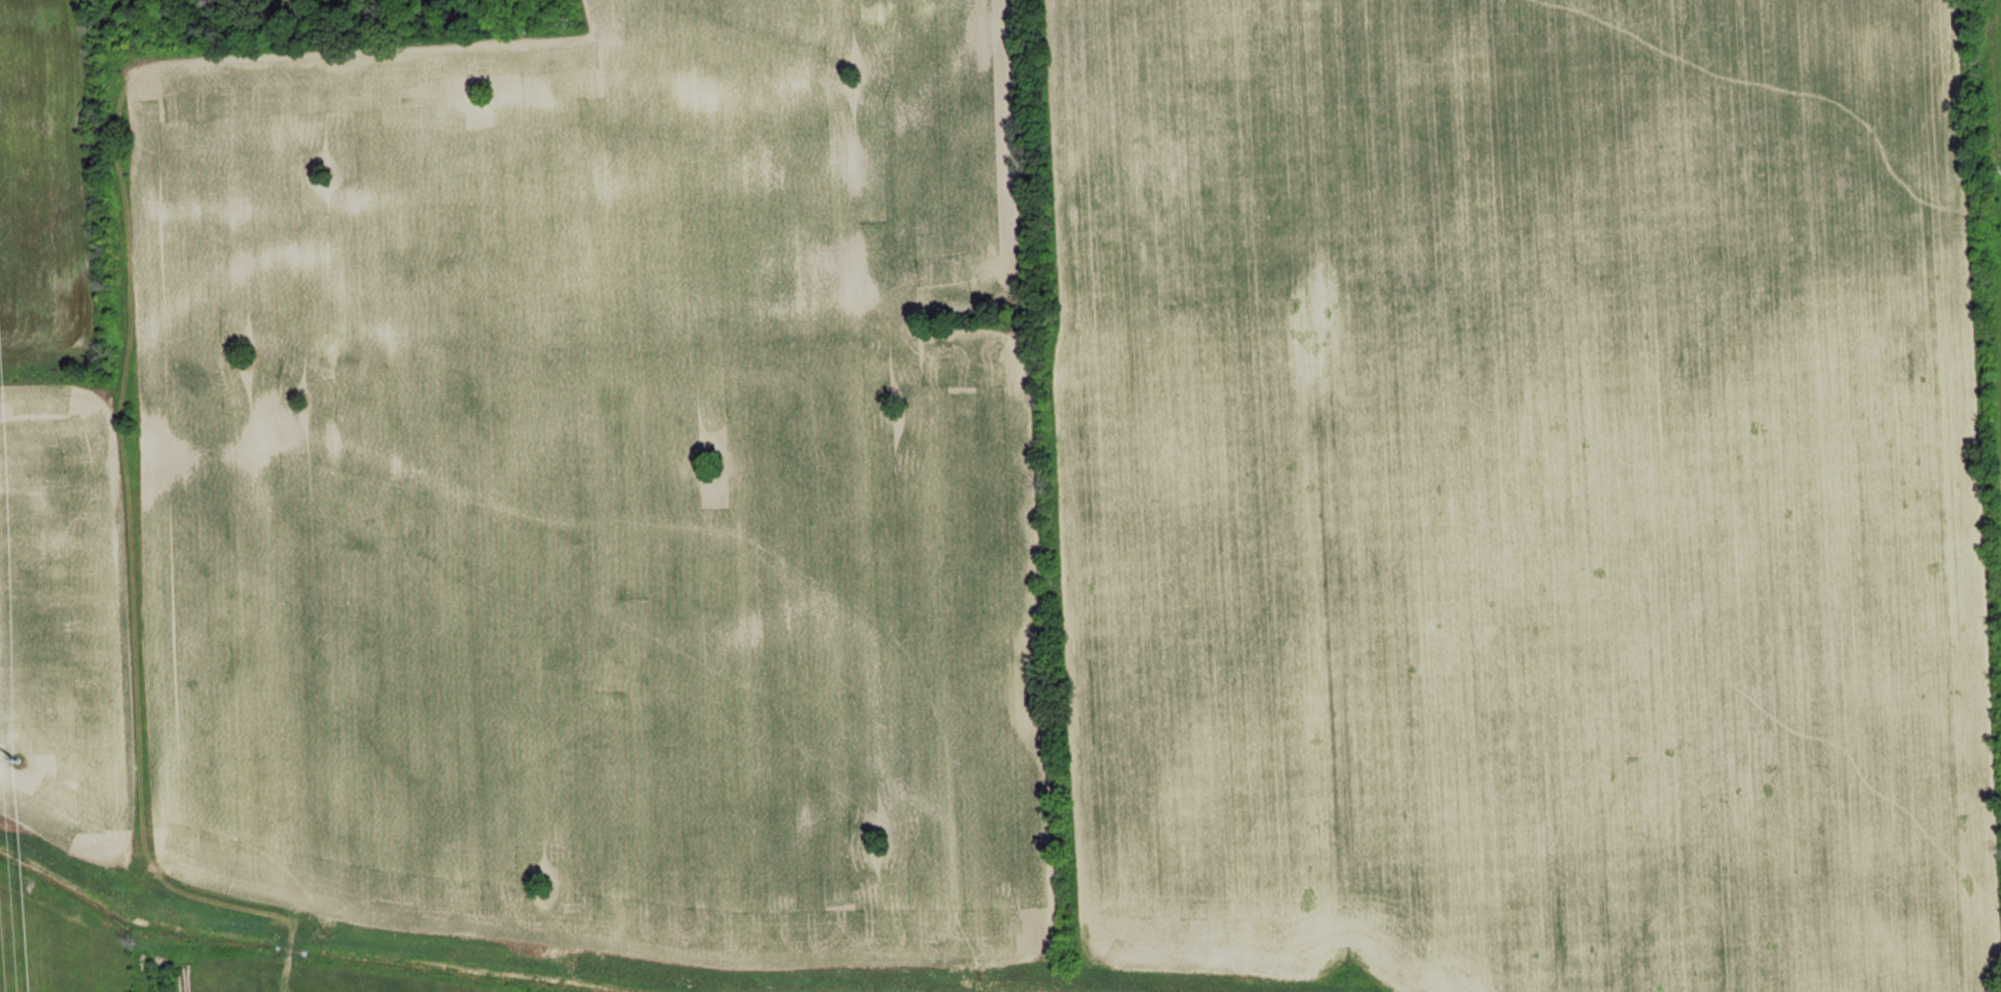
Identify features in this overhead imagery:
power tower: (2, 168)
power tower: (29, 761)

